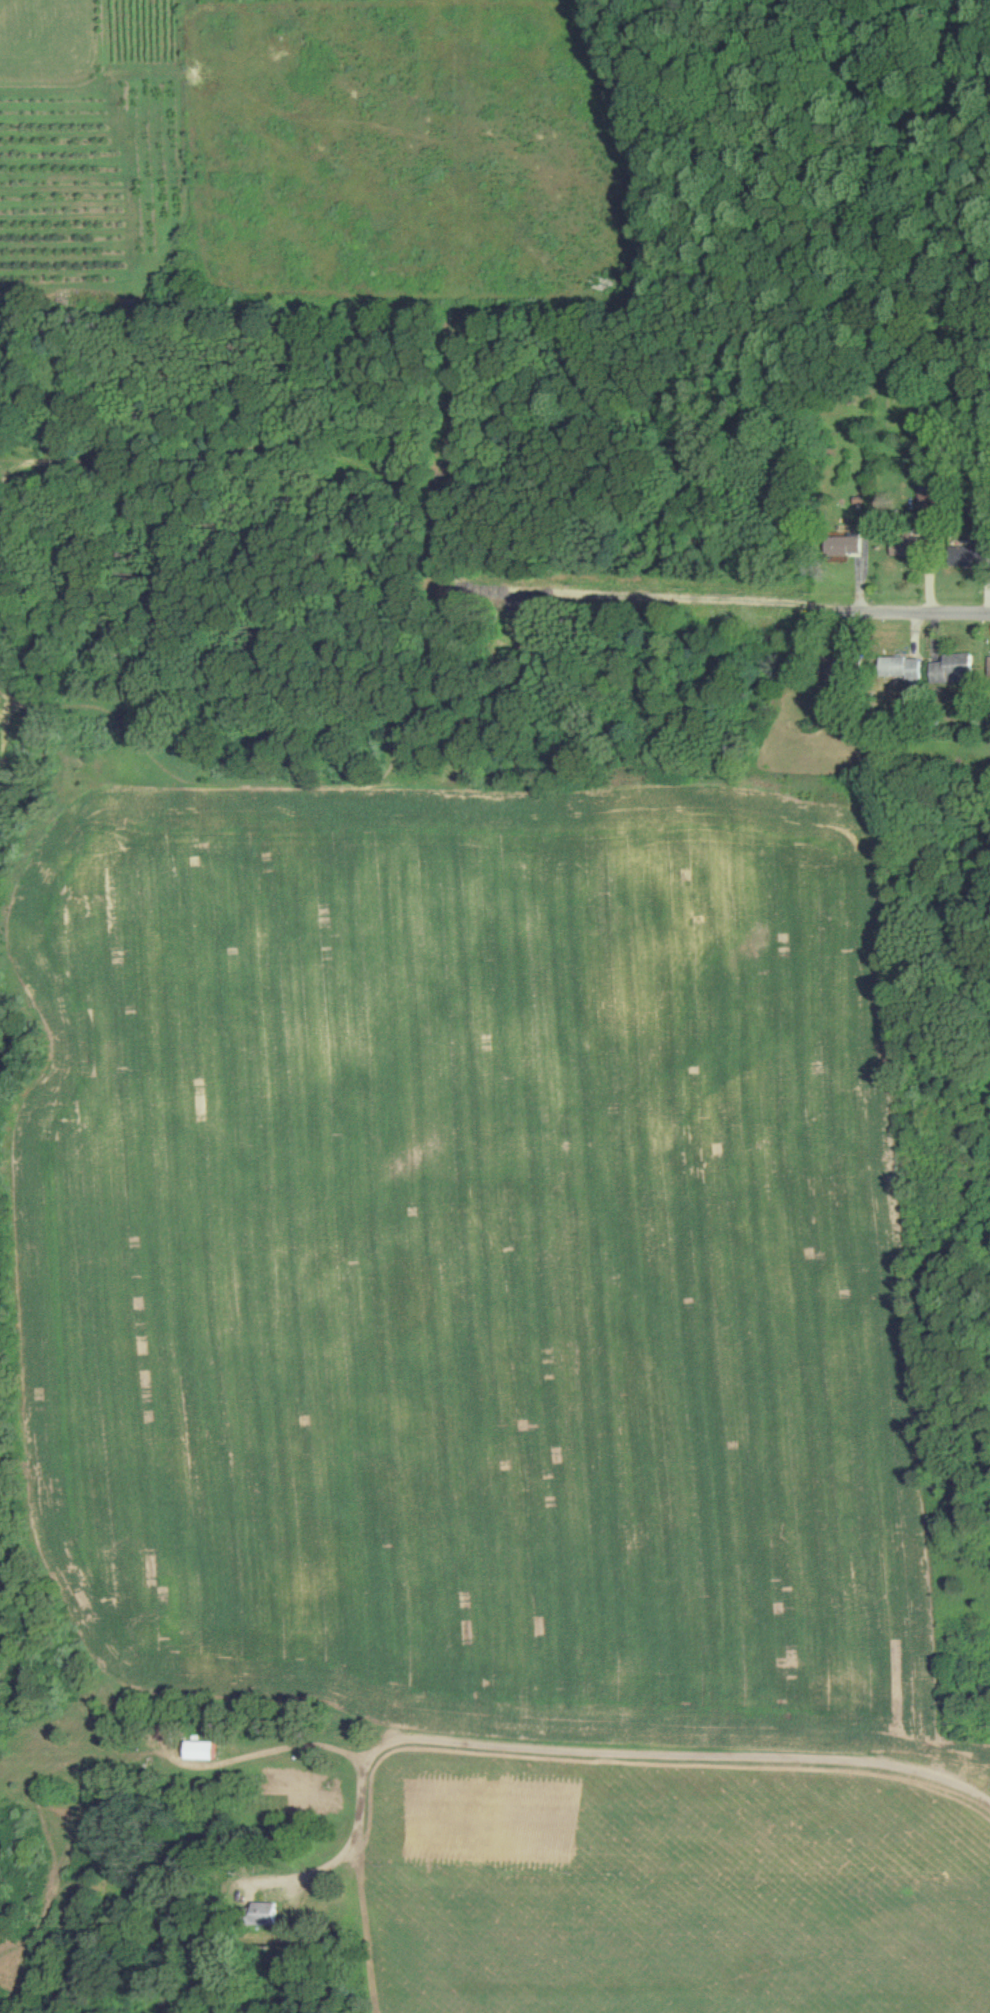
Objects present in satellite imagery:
road: (904, 606)
building: (989, 665)
building: (905, 669)
building: (954, 669)
road: (561, 1746)
building: (206, 1751)
road: (358, 1844)
building: (270, 1913)

